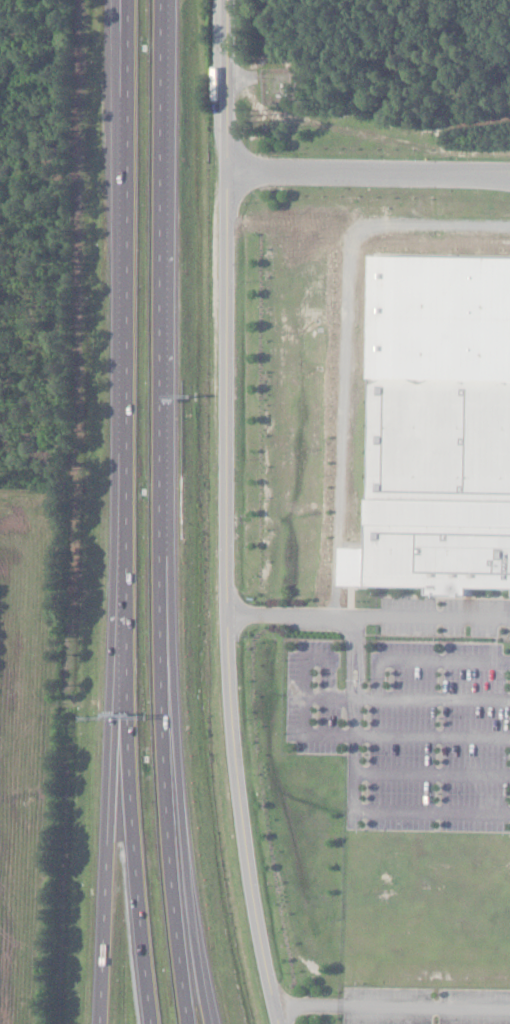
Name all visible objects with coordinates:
road: (372, 173)
road: (123, 361)
road: (166, 443)
building: (441, 484)
road: (232, 513)
road: (371, 615)
road: (354, 655)
road: (328, 695)
road: (443, 697)
road: (302, 705)
road: (354, 735)
road: (432, 736)
road: (432, 772)
road: (120, 844)
road: (136, 873)
road: (186, 955)
road: (193, 955)
road: (113, 995)
road: (394, 1007)

